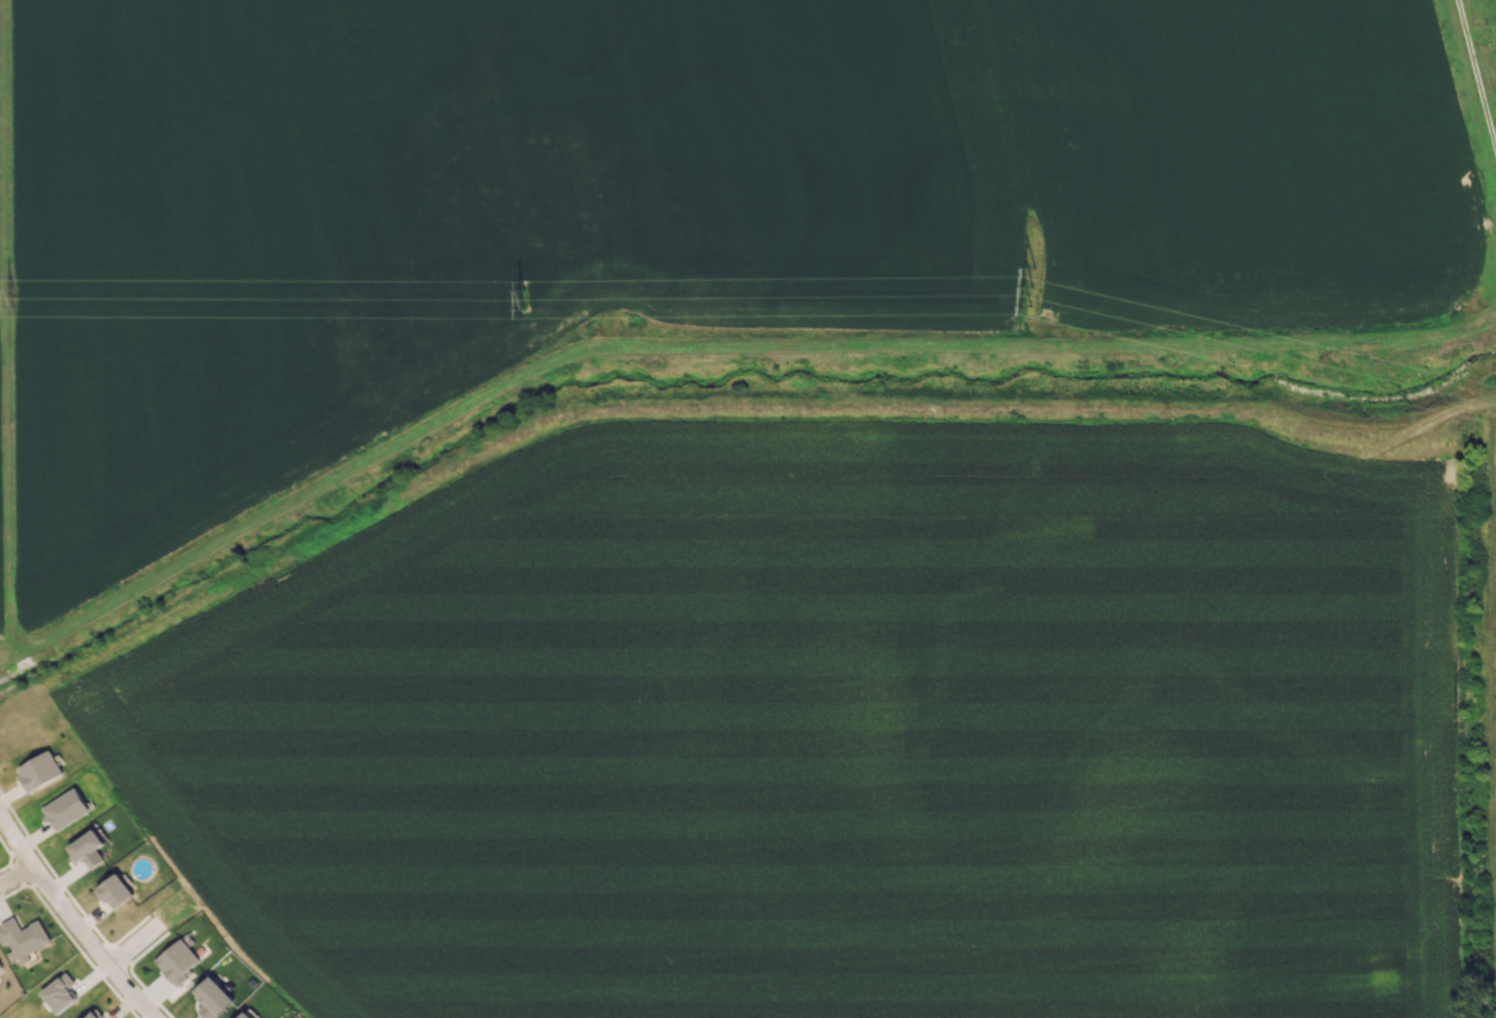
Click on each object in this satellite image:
power tower: (1480, 37)
power tower: (1029, 285)
power tower: (15, 294)
power tower: (528, 300)
road: (709, 344)
power tower: (1373, 354)
power tower: (984, 357)
power tower: (601, 358)
power tower: (200, 363)
building: (38, 771)
building: (65, 809)
building: (87, 849)
road: (15, 873)
building: (114, 891)
road: (72, 920)
building: (23, 938)
building: (176, 961)
building: (0, 967)
building: (59, 993)
building: (212, 998)
building: (93, 1014)
building: (244, 1015)

